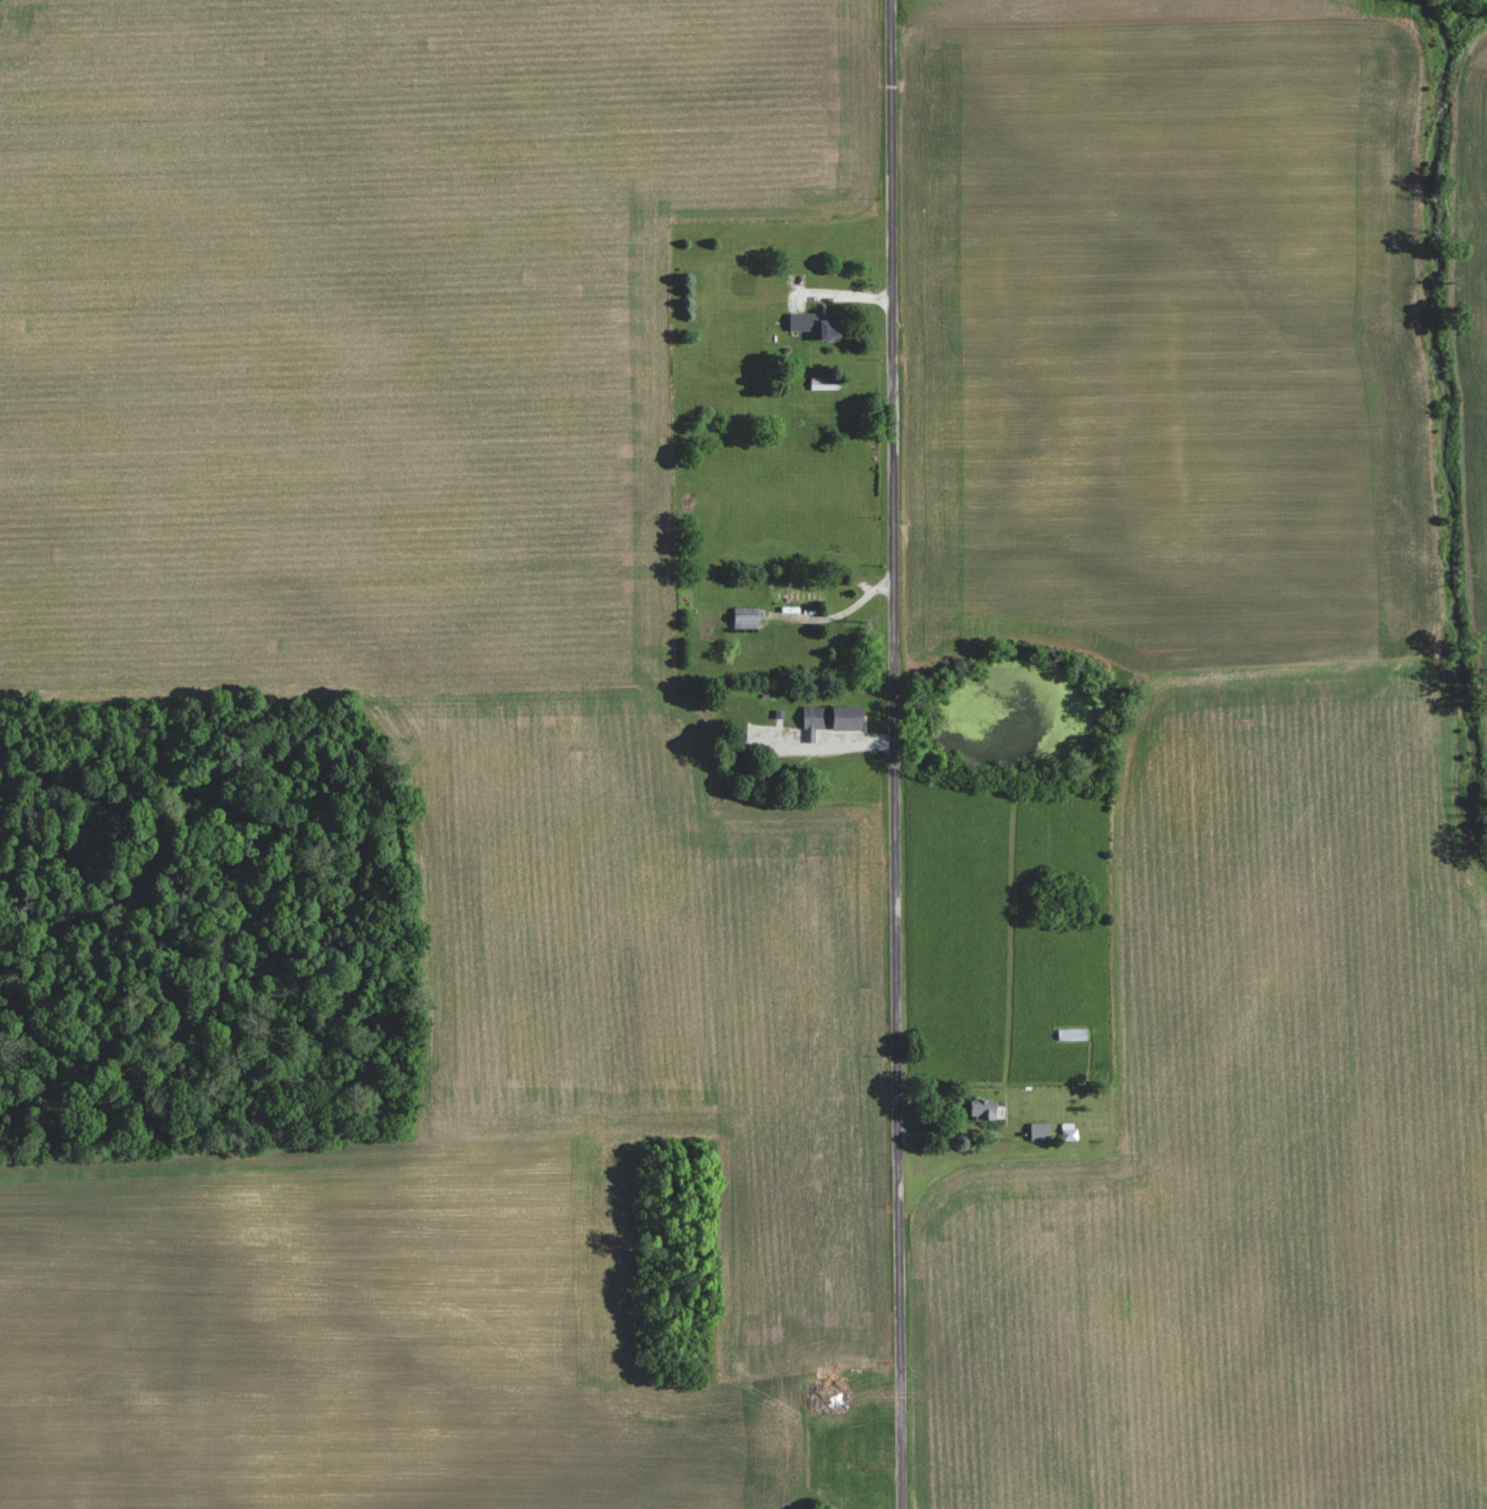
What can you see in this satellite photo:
building: (741, 285)
building: (815, 325)
building: (826, 384)
building: (797, 595)
building: (745, 617)
building: (830, 719)
road: (897, 754)
building: (1071, 1033)
building: (982, 1108)
building: (1038, 1131)
building: (1067, 1131)
building: (829, 1395)

